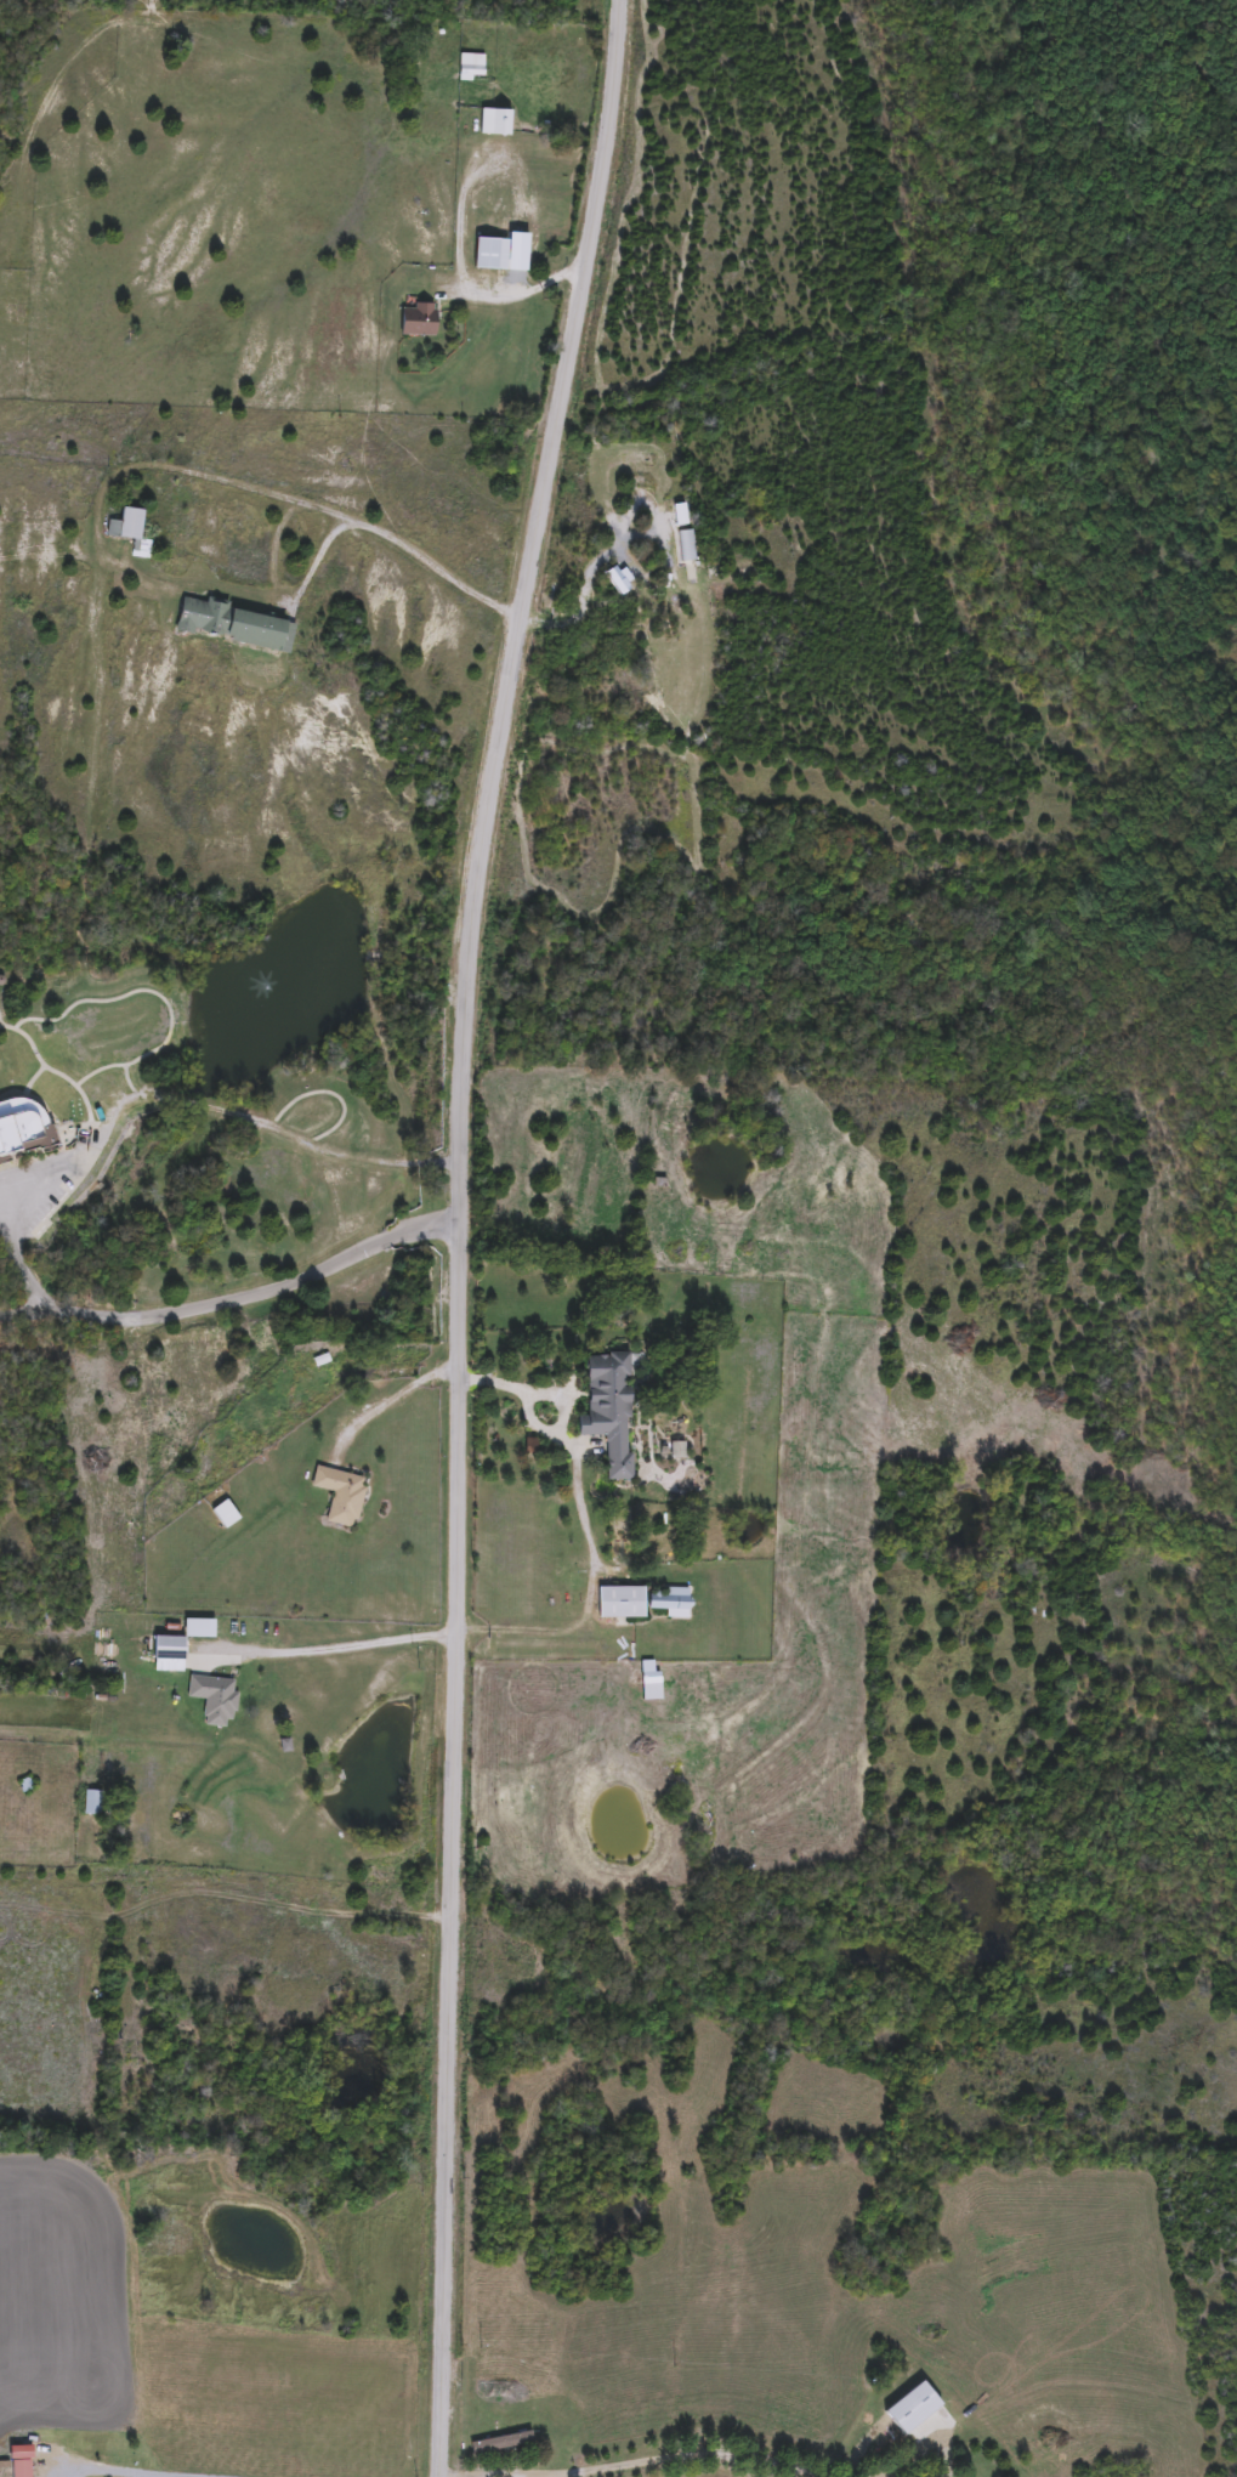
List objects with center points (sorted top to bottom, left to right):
building: (466, 69)
building: (496, 123)
building: (492, 254)
road: (460, 278)
building: (420, 321)
road: (197, 470)
building: (131, 532)
building: (687, 546)
building: (623, 580)
road: (588, 583)
building: (236, 627)
road: (161, 1095)
building: (23, 1128)
road: (4, 1206)
road: (465, 1231)
road: (239, 1298)
road: (392, 1395)
road: (560, 1398)
building: (611, 1411)
building: (342, 1496)
building: (227, 1515)
road: (591, 1580)
building: (671, 1602)
building: (622, 1603)
road: (339, 1638)
building: (169, 1649)
building: (652, 1684)
building: (215, 1699)
building: (93, 1803)
building: (912, 2409)
building: (501, 2443)
road: (631, 2460)
building: (23, 2469)
road: (151, 2471)

